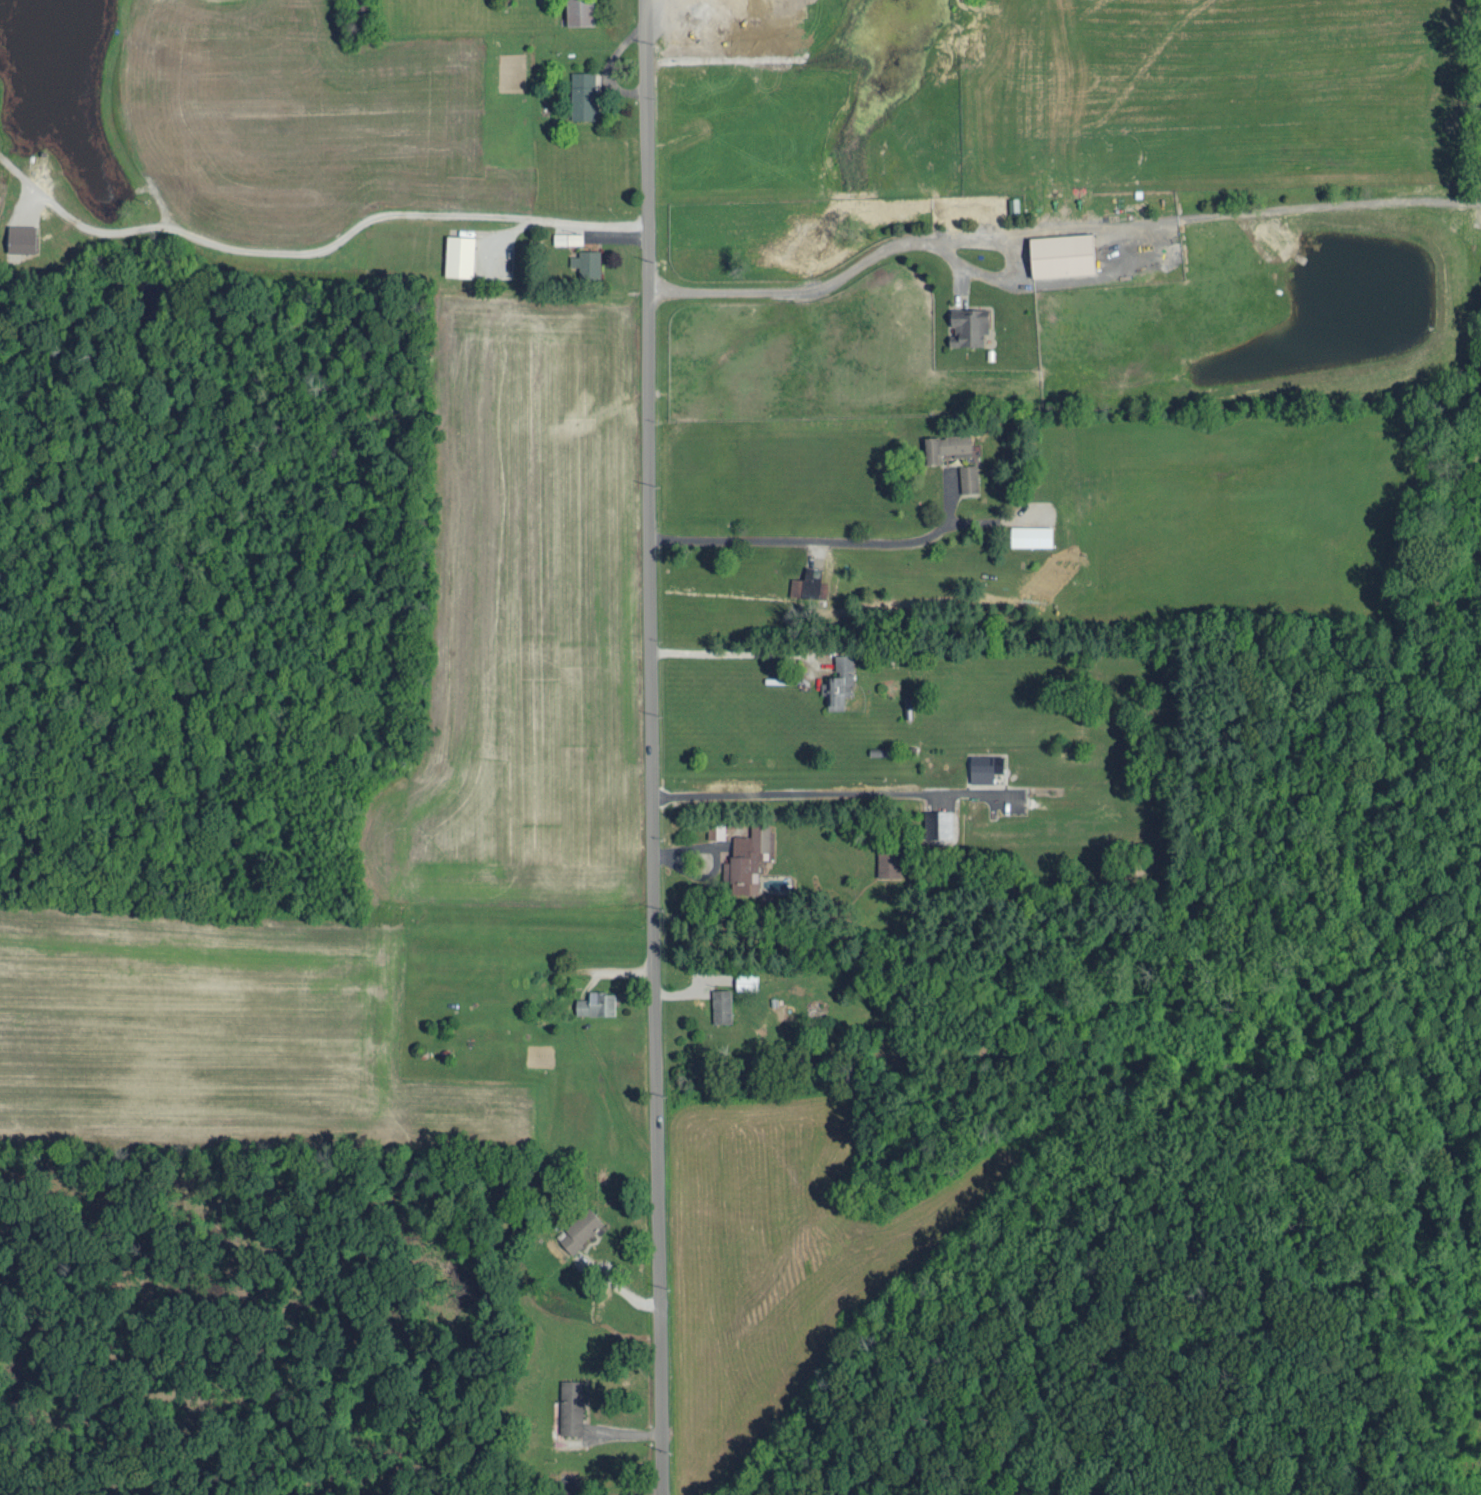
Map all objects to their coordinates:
building: (746, 0)
building: (580, 12)
building: (584, 94)
building: (1269, 236)
building: (22, 237)
building: (568, 237)
building: (1063, 254)
building: (460, 255)
building: (587, 262)
building: (969, 325)
building: (947, 446)
building: (969, 477)
building: (1032, 535)
building: (807, 582)
building: (839, 680)
road: (651, 747)
building: (985, 765)
building: (1015, 798)
building: (938, 822)
building: (716, 829)
building: (747, 857)
building: (889, 861)
building: (747, 979)
building: (597, 1002)
building: (722, 1004)
building: (581, 1228)
building: (571, 1405)

